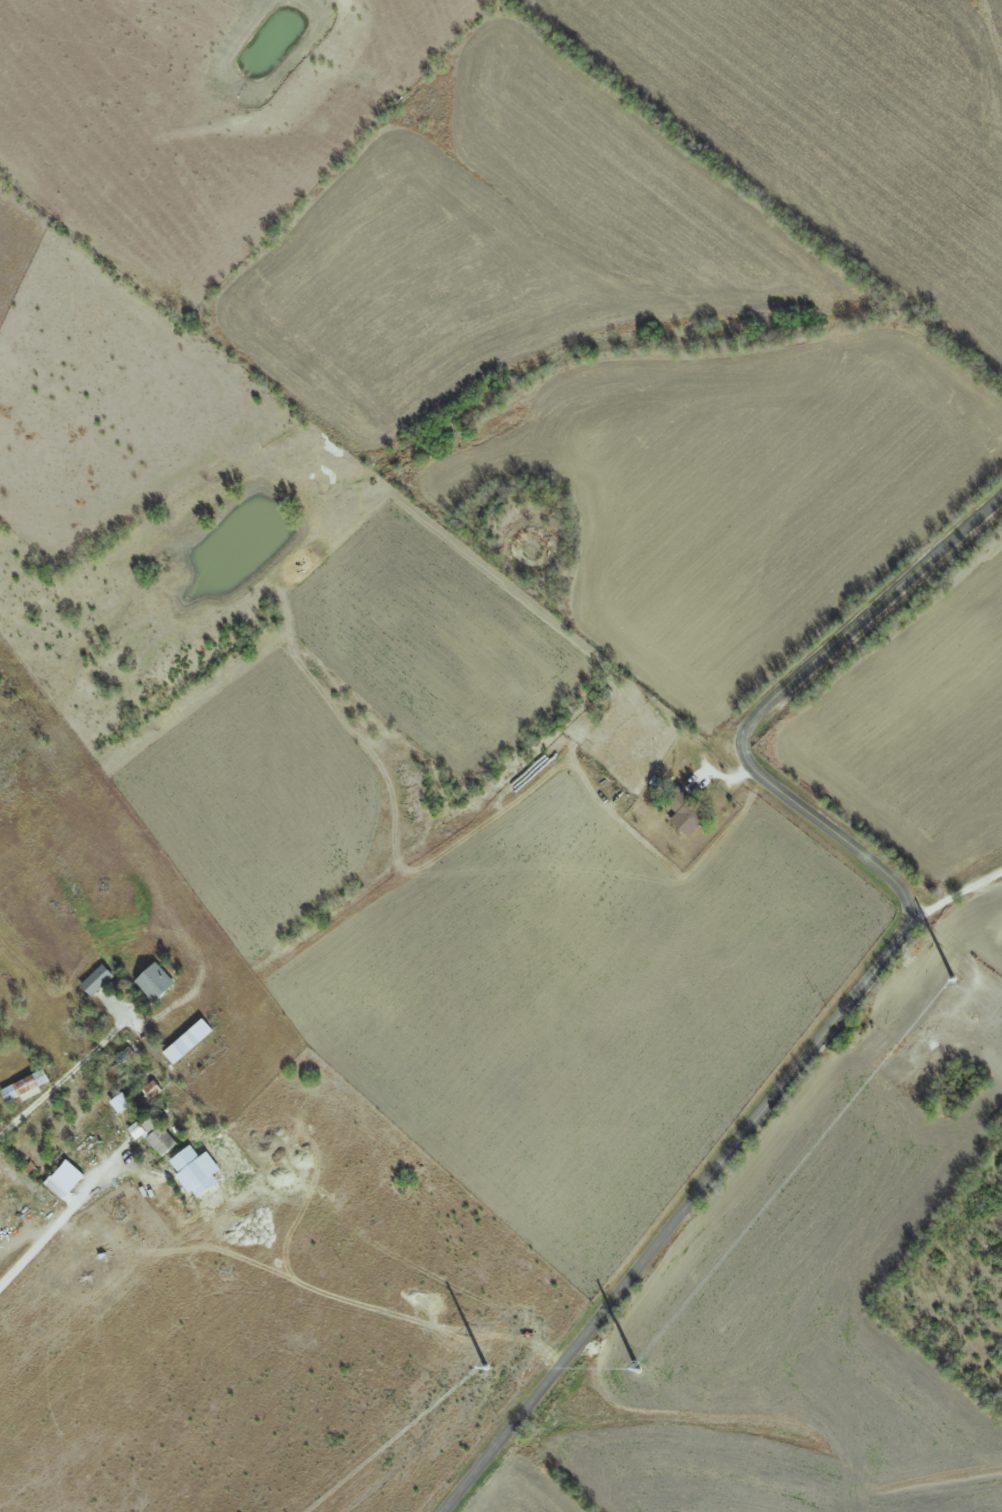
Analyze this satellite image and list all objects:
road: (957, 893)
road: (871, 978)
power tower: (941, 978)
building: (96, 979)
building: (155, 981)
building: (188, 1040)
road: (60, 1080)
building: (26, 1086)
building: (120, 1102)
building: (154, 1134)
building: (189, 1167)
road: (60, 1218)
power tower: (475, 1366)
power tower: (629, 1369)

